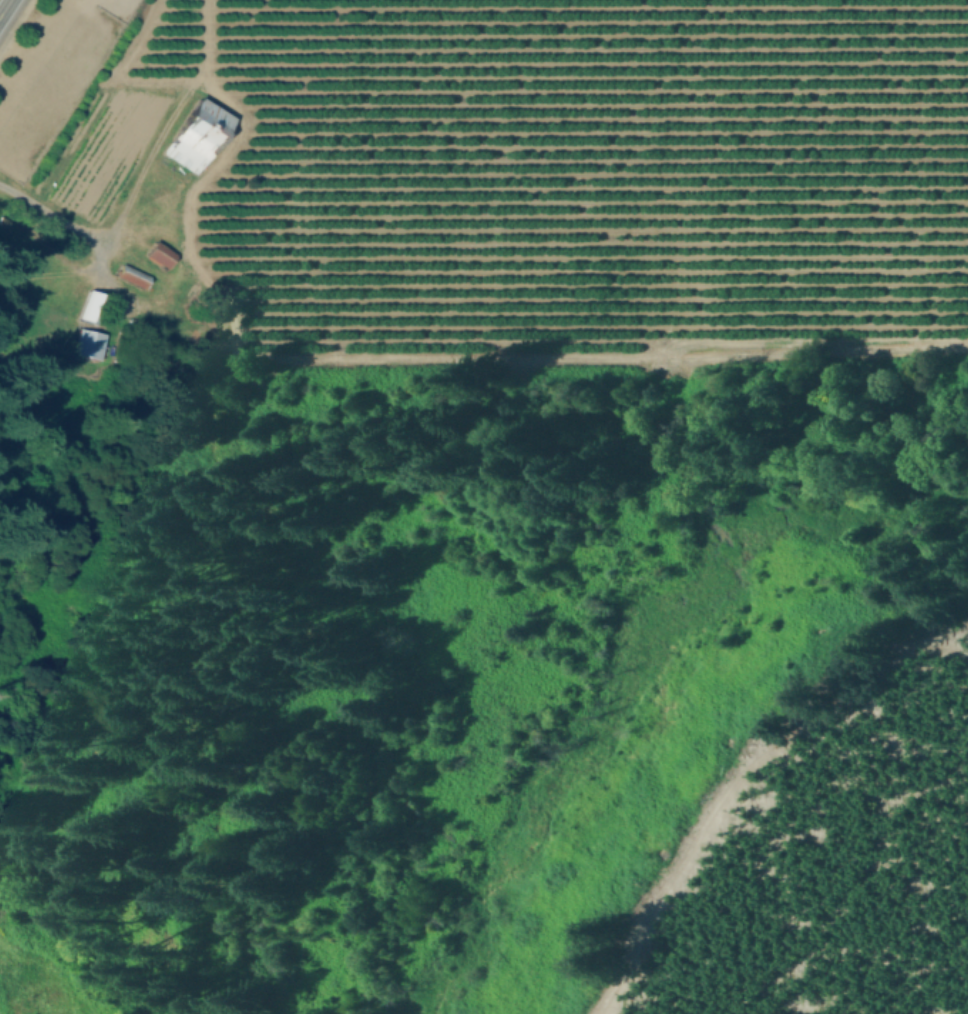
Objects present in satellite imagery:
road: (5, 8)
building: (189, 145)
road: (60, 219)
building: (3, 225)
building: (159, 255)
building: (133, 277)
building: (92, 308)

